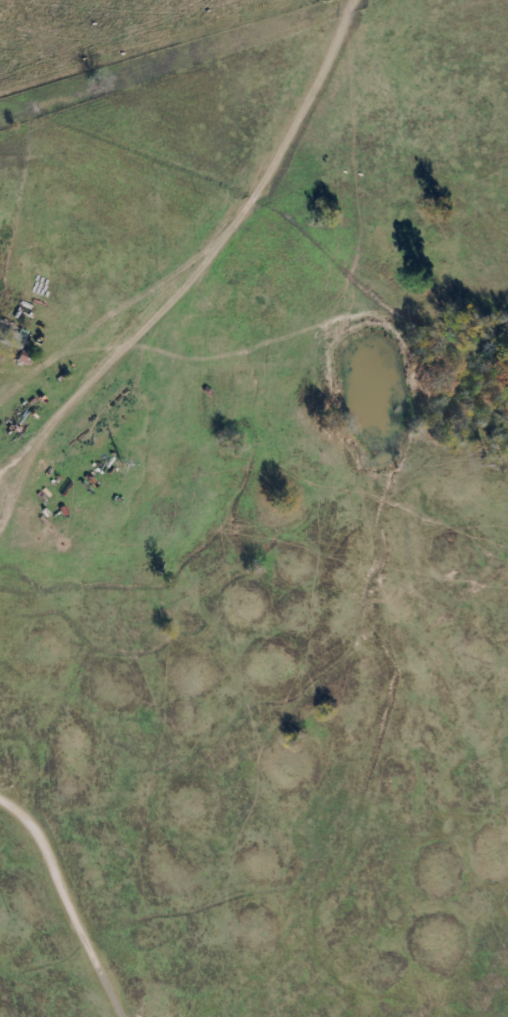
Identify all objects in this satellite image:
building: (12, 335)
road: (75, 897)

